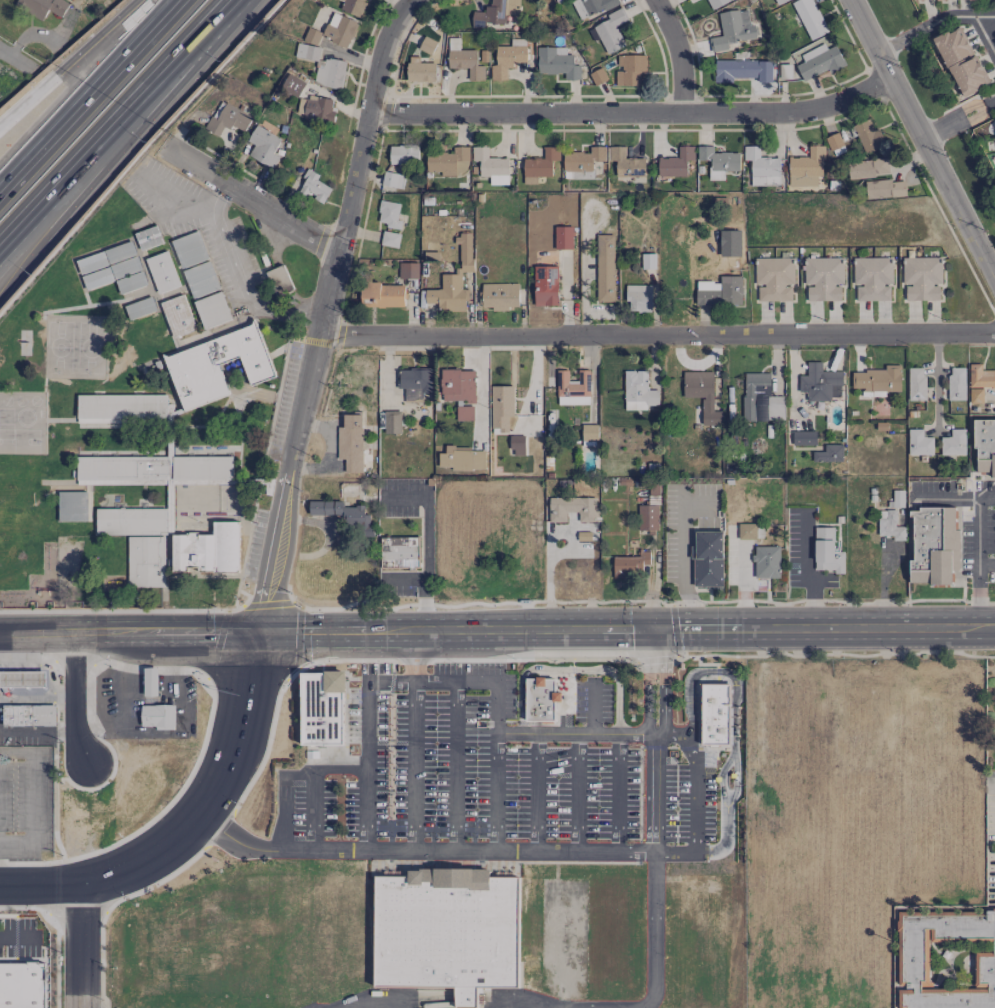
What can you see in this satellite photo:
road: (180, 0)
building: (692, 0)
building: (920, 0)
building: (779, 1)
building: (716, 3)
building: (353, 6)
building: (591, 6)
building: (42, 7)
building: (495, 12)
building: (809, 18)
road: (931, 23)
building: (733, 28)
building: (339, 29)
building: (610, 31)
road: (984, 35)
road: (197, 36)
building: (427, 45)
building: (306, 51)
road: (678, 57)
building: (508, 58)
building: (464, 60)
road: (16, 61)
building: (819, 61)
building: (557, 62)
building: (960, 62)
road: (90, 65)
building: (630, 69)
building: (420, 70)
building: (743, 70)
building: (786, 70)
building: (330, 73)
building: (598, 76)
building: (293, 84)
road: (90, 97)
building: (316, 108)
road: (633, 118)
building: (227, 119)
road: (366, 119)
road: (956, 119)
building: (868, 135)
road: (920, 141)
building: (835, 144)
building: (264, 146)
building: (403, 154)
road: (82, 159)
building: (449, 161)
building: (718, 161)
building: (582, 162)
building: (676, 162)
building: (541, 163)
building: (626, 163)
building: (491, 165)
building: (762, 167)
building: (806, 167)
building: (868, 168)
road: (82, 172)
building: (315, 188)
building: (886, 188)
road: (248, 195)
building: (388, 214)
building: (148, 237)
building: (563, 237)
building: (390, 239)
building: (189, 249)
building: (105, 257)
building: (604, 268)
building: (408, 270)
building: (162, 272)
building: (109, 273)
road: (239, 276)
building: (278, 278)
building: (774, 278)
building: (823, 278)
building: (872, 278)
building: (922, 278)
building: (200, 279)
building: (453, 280)
building: (130, 282)
building: (545, 285)
building: (721, 292)
building: (382, 295)
building: (499, 295)
building: (639, 298)
building: (212, 310)
building: (177, 317)
road: (656, 334)
building: (217, 366)
building: (877, 381)
road: (937, 381)
building: (979, 382)
building: (414, 383)
building: (916, 383)
building: (956, 383)
building: (819, 384)
building: (458, 385)
road: (481, 388)
building: (573, 388)
building: (638, 391)
building: (702, 394)
building: (759, 398)
building: (501, 407)
building: (122, 410)
building: (464, 413)
building: (392, 421)
building: (589, 432)
building: (804, 437)
road: (296, 440)
building: (351, 442)
building: (919, 443)
building: (953, 443)
building: (517, 445)
building: (984, 447)
building: (829, 454)
building: (461, 458)
building: (201, 496)
road: (986, 498)
building: (72, 506)
building: (572, 508)
building: (343, 514)
building: (647, 517)
building: (890, 525)
road: (976, 531)
road: (341, 538)
road: (428, 544)
building: (933, 546)
building: (208, 549)
building: (399, 551)
building: (826, 551)
building: (319, 555)
building: (707, 559)
building: (146, 561)
building: (630, 563)
road: (985, 565)
road: (682, 566)
road: (804, 572)
road: (549, 576)
road: (409, 579)
road: (882, 585)
road: (41, 622)
road: (704, 629)
road: (869, 629)
road: (517, 630)
road: (624, 630)
road: (657, 630)
road: (332, 631)
road: (418, 631)
road: (431, 631)
road: (138, 632)
road: (208, 632)
road: (239, 632)
traffic signals: (256, 632)
road: (41, 643)
road: (423, 655)
road: (408, 657)
road: (570, 669)
road: (727, 672)
building: (22, 679)
road: (391, 681)
road: (455, 681)
road: (647, 690)
road: (666, 690)
road: (118, 694)
road: (72, 698)
building: (542, 699)
building: (323, 707)
road: (594, 708)
building: (716, 713)
building: (28, 715)
building: (158, 716)
road: (182, 725)
road: (594, 733)
road: (366, 765)
road: (415, 765)
road: (456, 765)
road: (496, 765)
road: (722, 776)
road: (737, 780)
road: (313, 782)
road: (537, 791)
road: (578, 791)
road: (617, 791)
road: (695, 792)
road: (212, 793)
road: (283, 797)
road: (31, 798)
road: (655, 799)
road: (727, 836)
road: (444, 850)
road: (40, 885)
building: (449, 930)
road: (654, 931)
road: (18, 937)
road: (80, 946)
building: (946, 959)
building: (22, 984)

